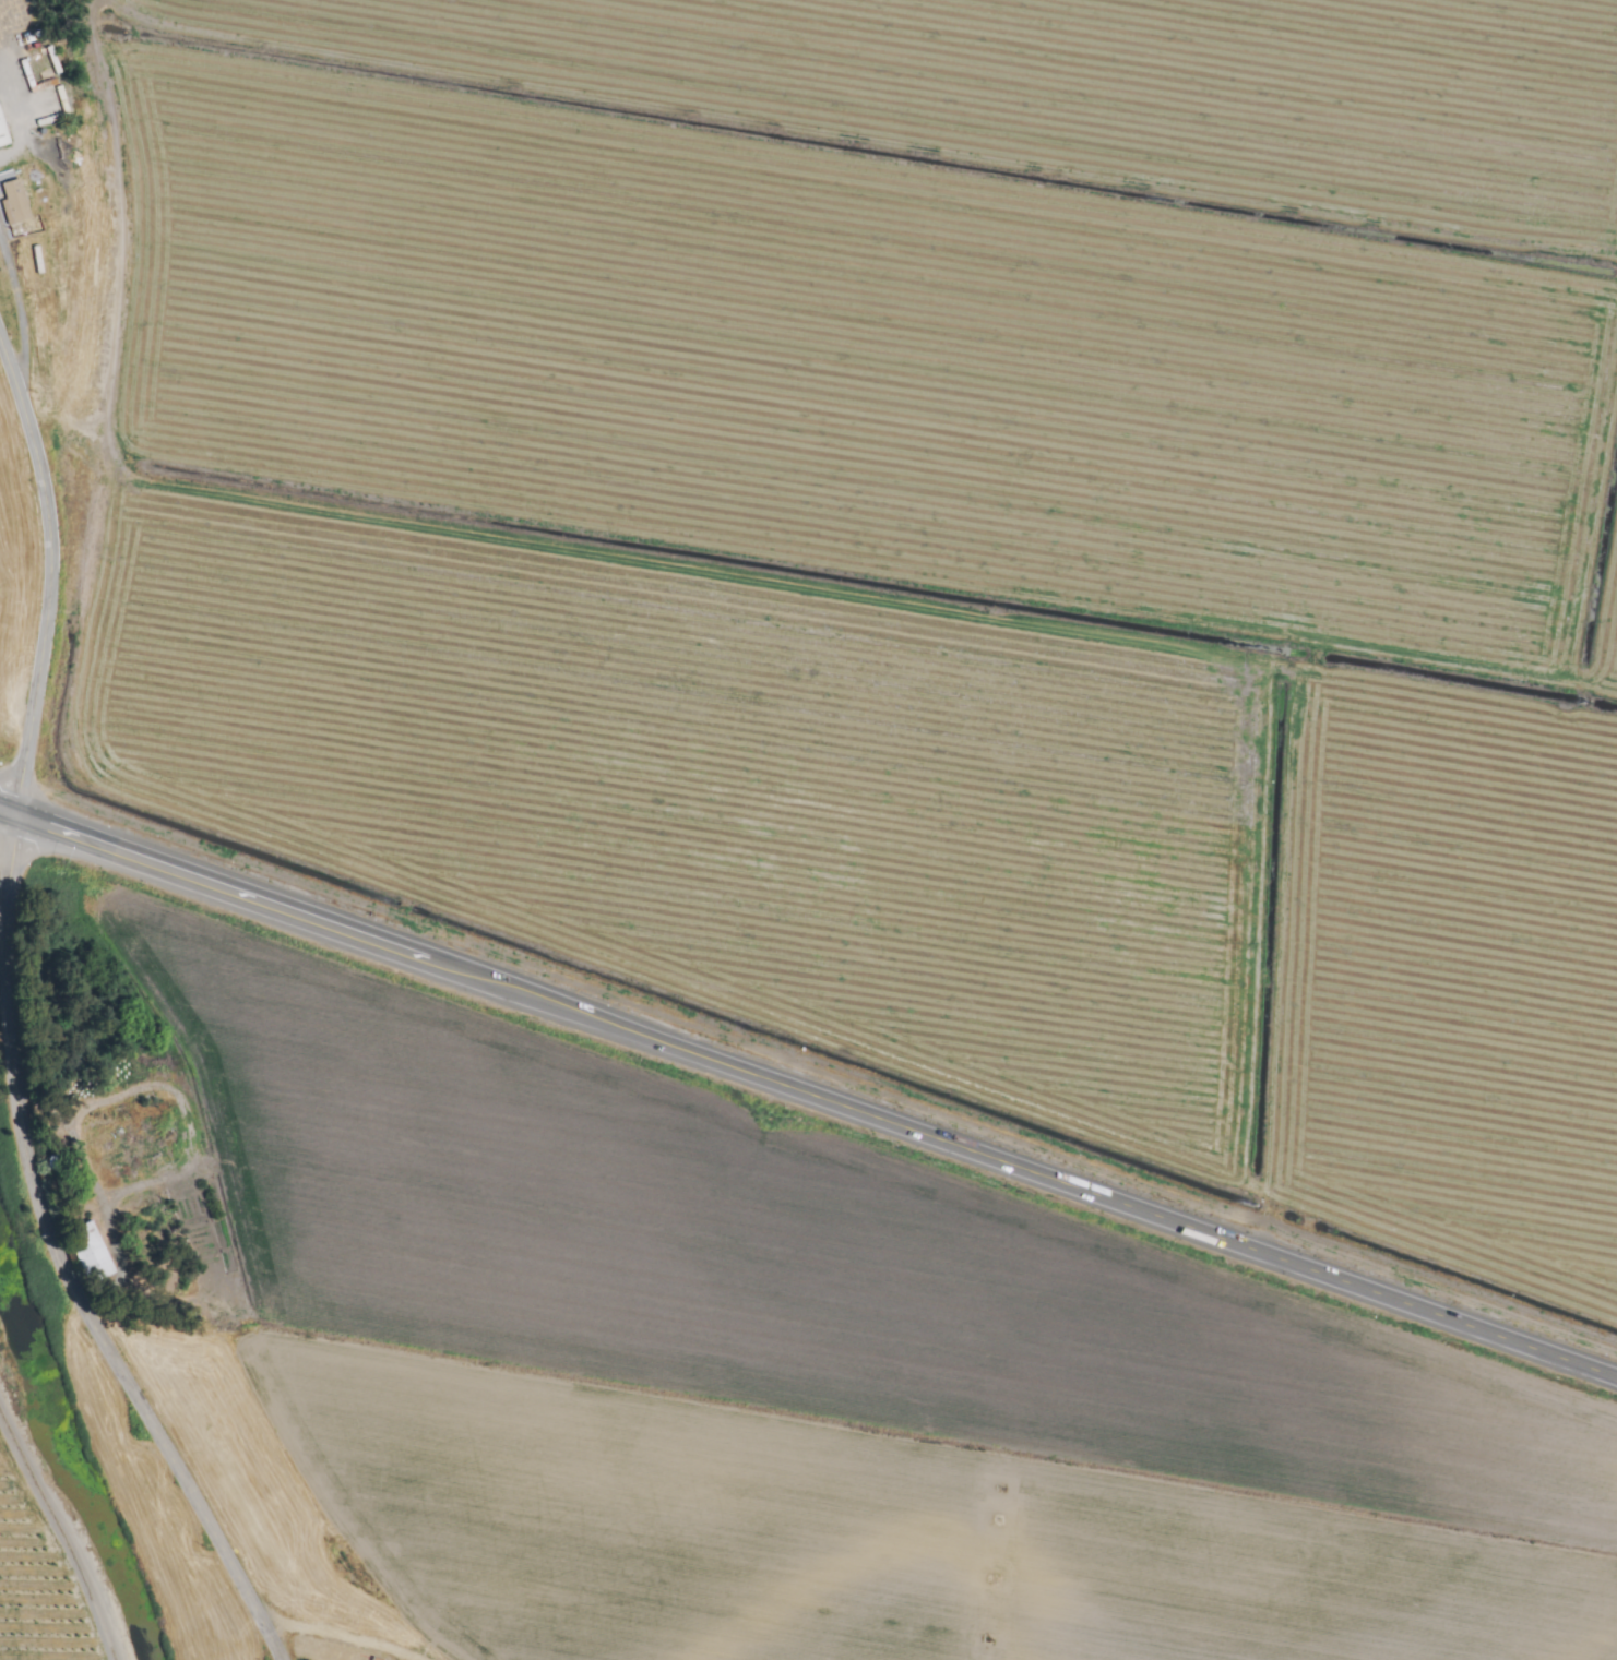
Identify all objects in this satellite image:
building: (2, 134)
building: (14, 203)
road: (19, 308)
crop: (880, 808)
road: (8, 812)
road: (236, 893)
road: (3, 908)
road: (8, 1024)
road: (1037, 1174)
building: (92, 1252)
road: (50, 1544)
crop: (43, 1554)

